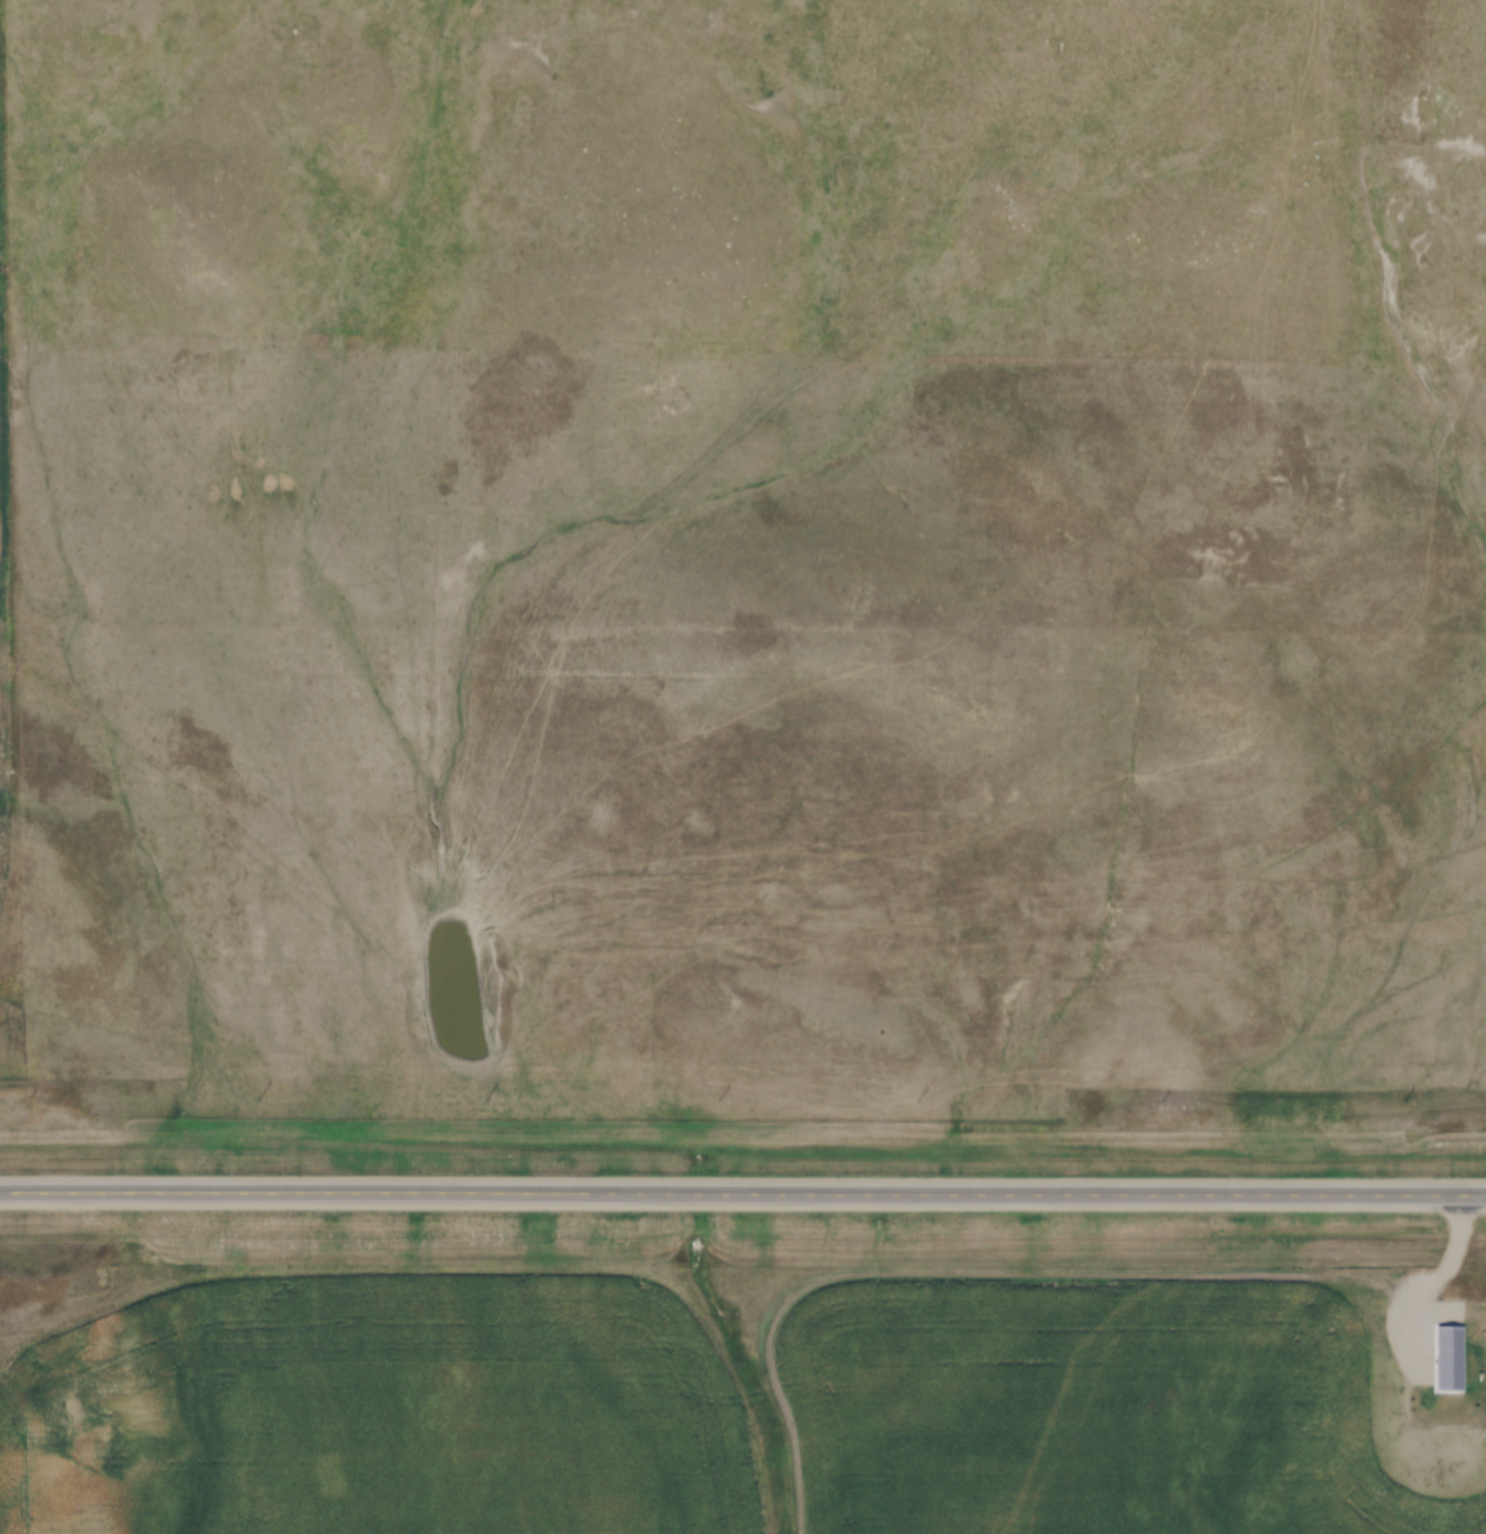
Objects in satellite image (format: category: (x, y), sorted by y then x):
road: (2, 428)
road: (743, 1195)
building: (1431, 1372)

